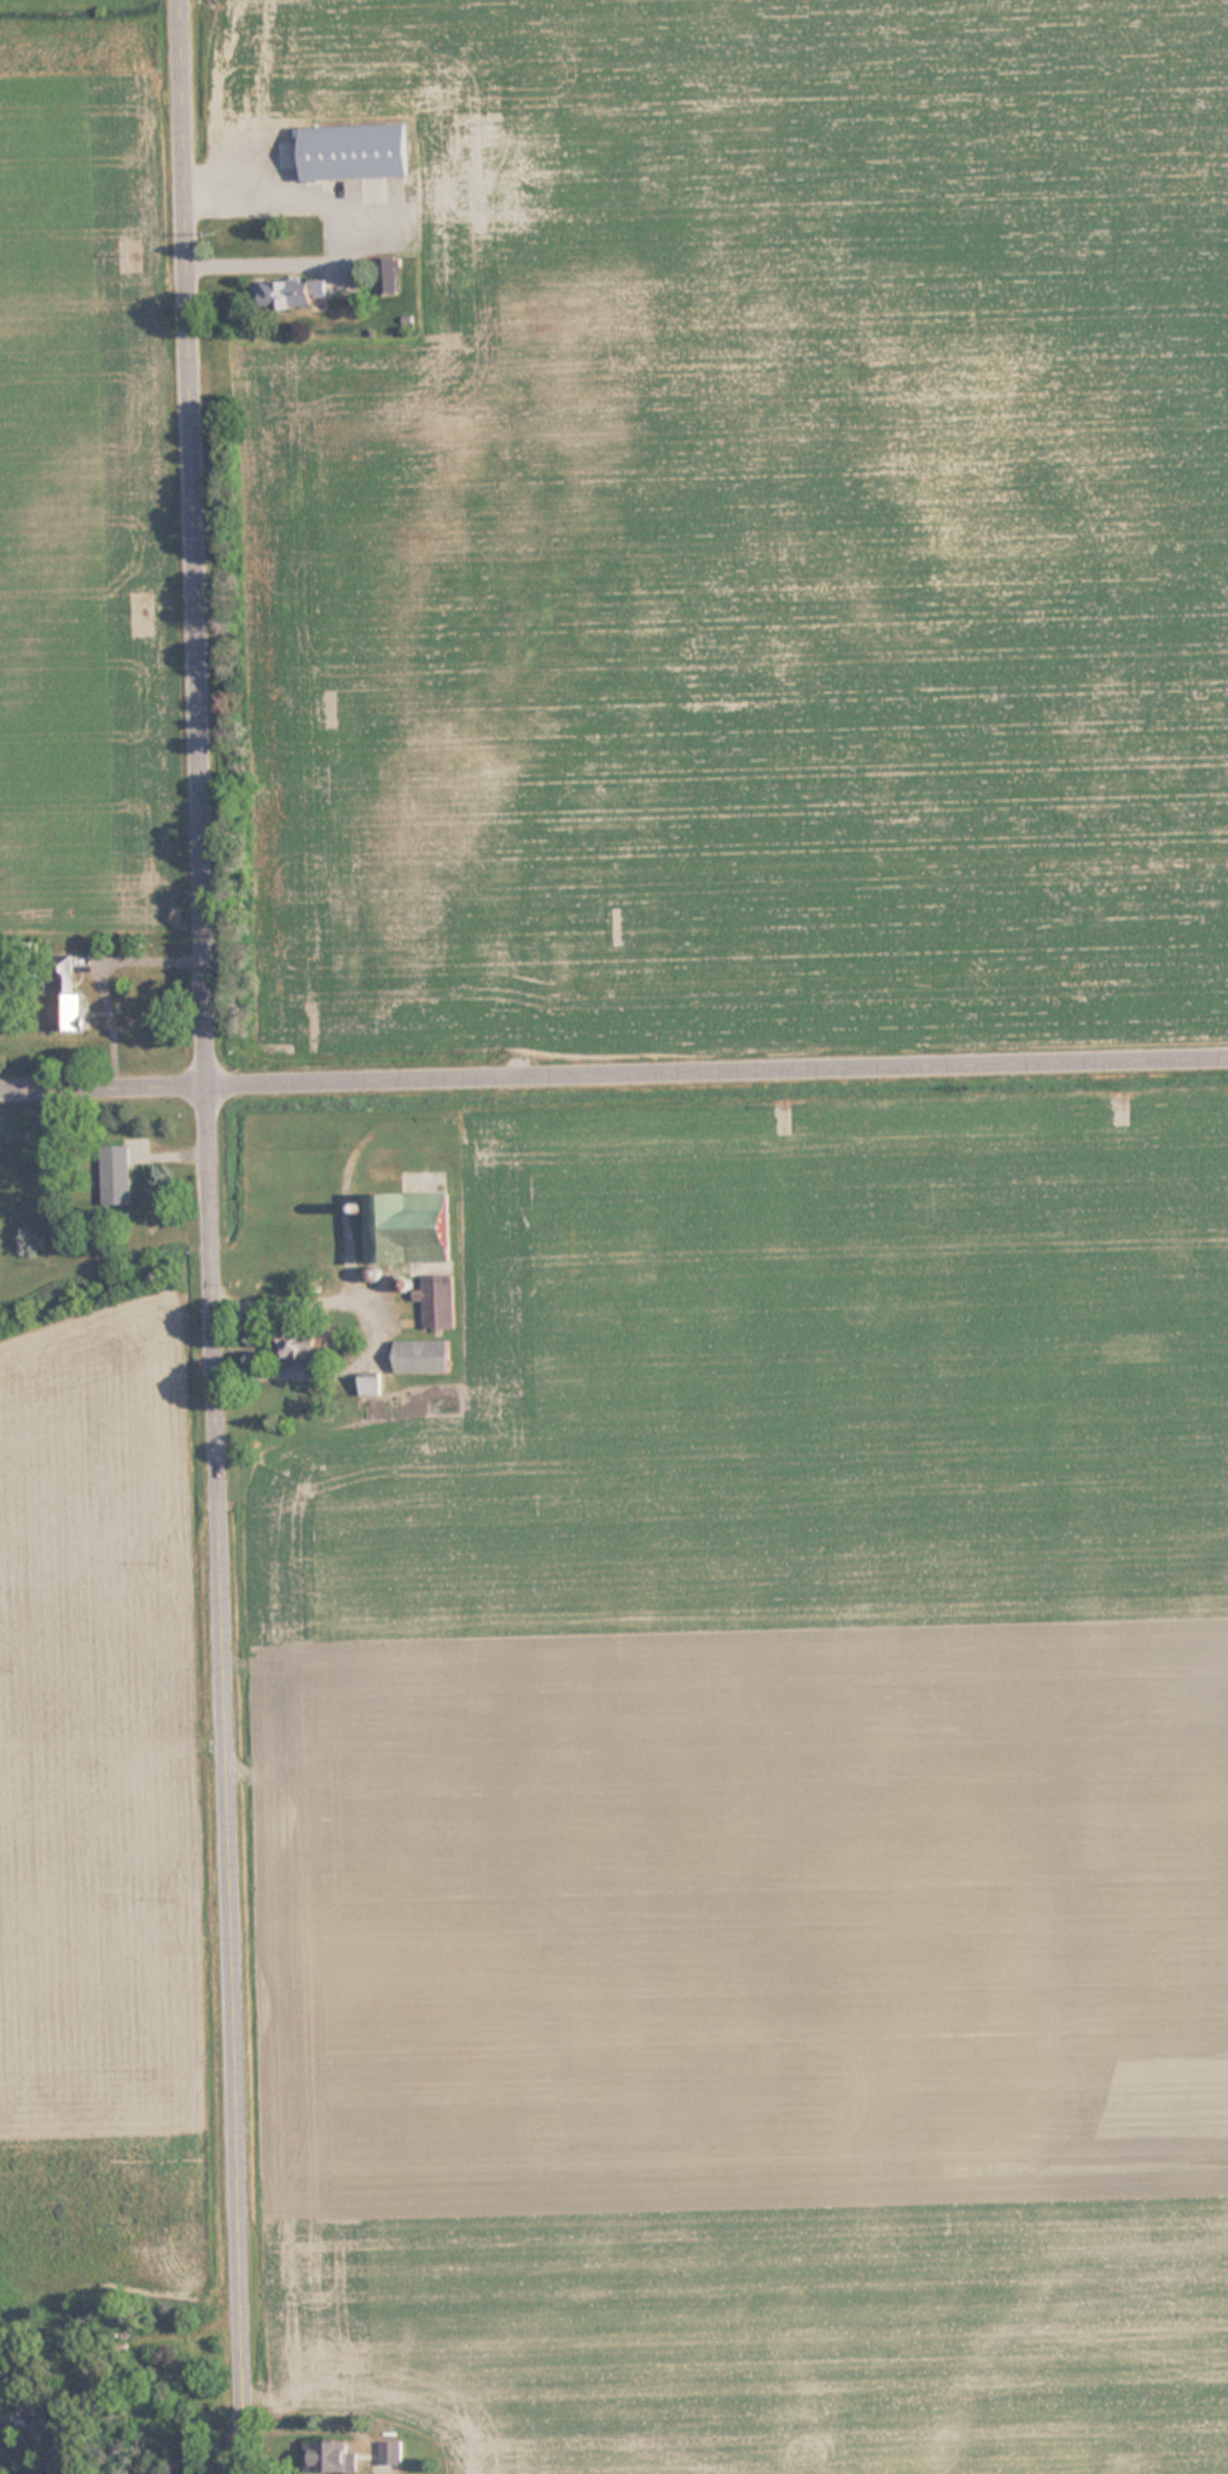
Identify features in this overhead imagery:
building: (356, 150)
building: (292, 292)
building: (64, 995)
road: (613, 1072)
building: (117, 1173)
building: (409, 1227)
road: (217, 1237)
building: (438, 1301)
building: (299, 1343)
building: (424, 1357)
building: (7, 2417)
building: (334, 2456)

